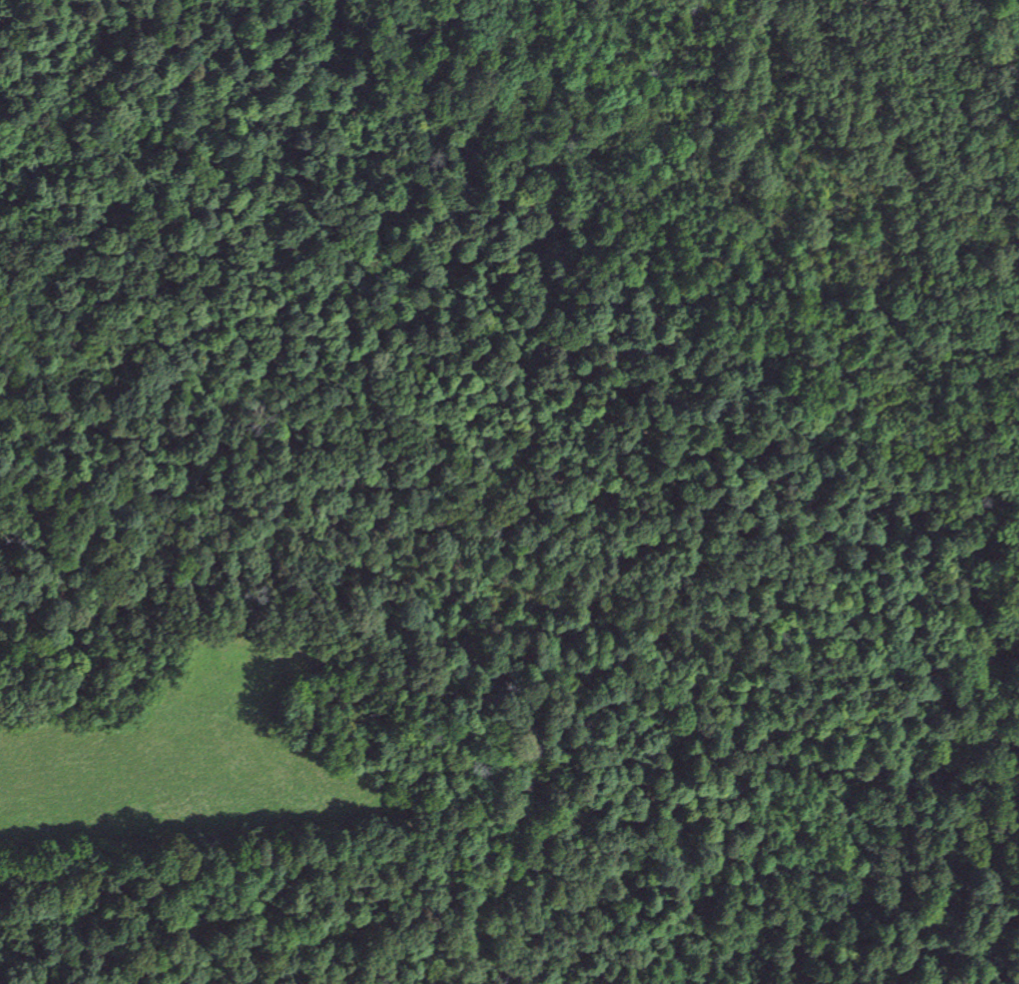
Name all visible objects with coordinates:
road: (878, 288)
road: (523, 834)

